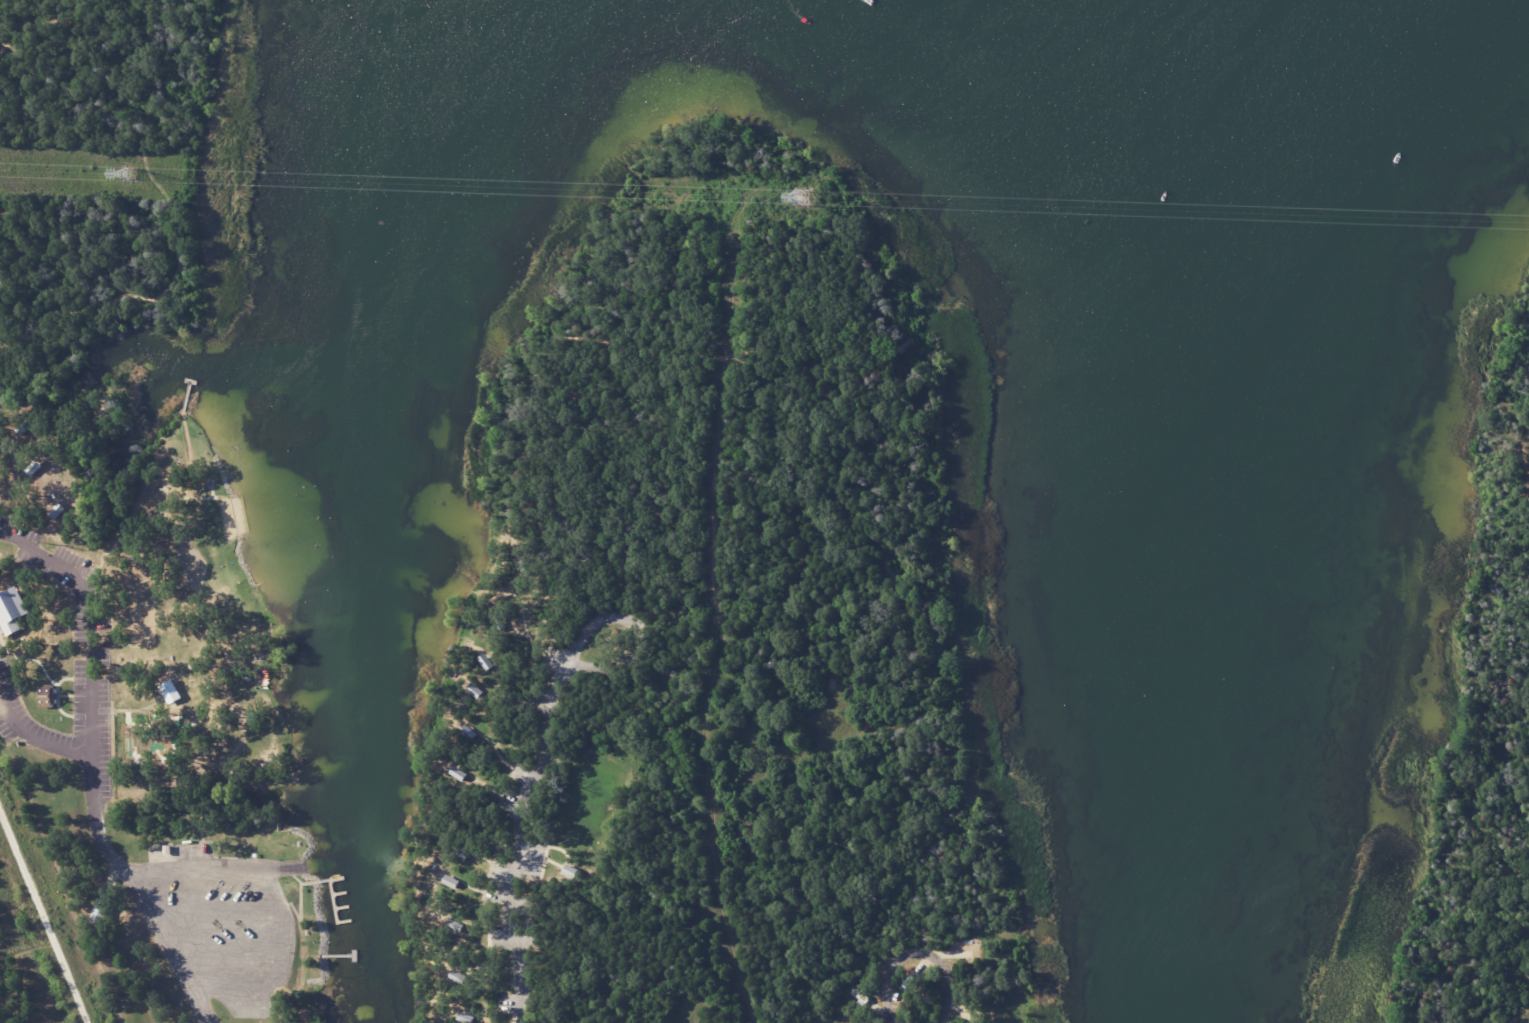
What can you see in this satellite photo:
road: (30, 16)
power tower: (129, 176)
power tower: (803, 199)
road: (168, 228)
road: (830, 399)
road: (1526, 461)
building: (33, 467)
building: (11, 611)
road: (88, 621)
road: (636, 645)
building: (170, 691)
building: (46, 695)
road: (33, 734)
road: (514, 831)
road: (134, 895)
building: (99, 911)
road: (43, 916)
road: (917, 951)
road: (1520, 1016)

